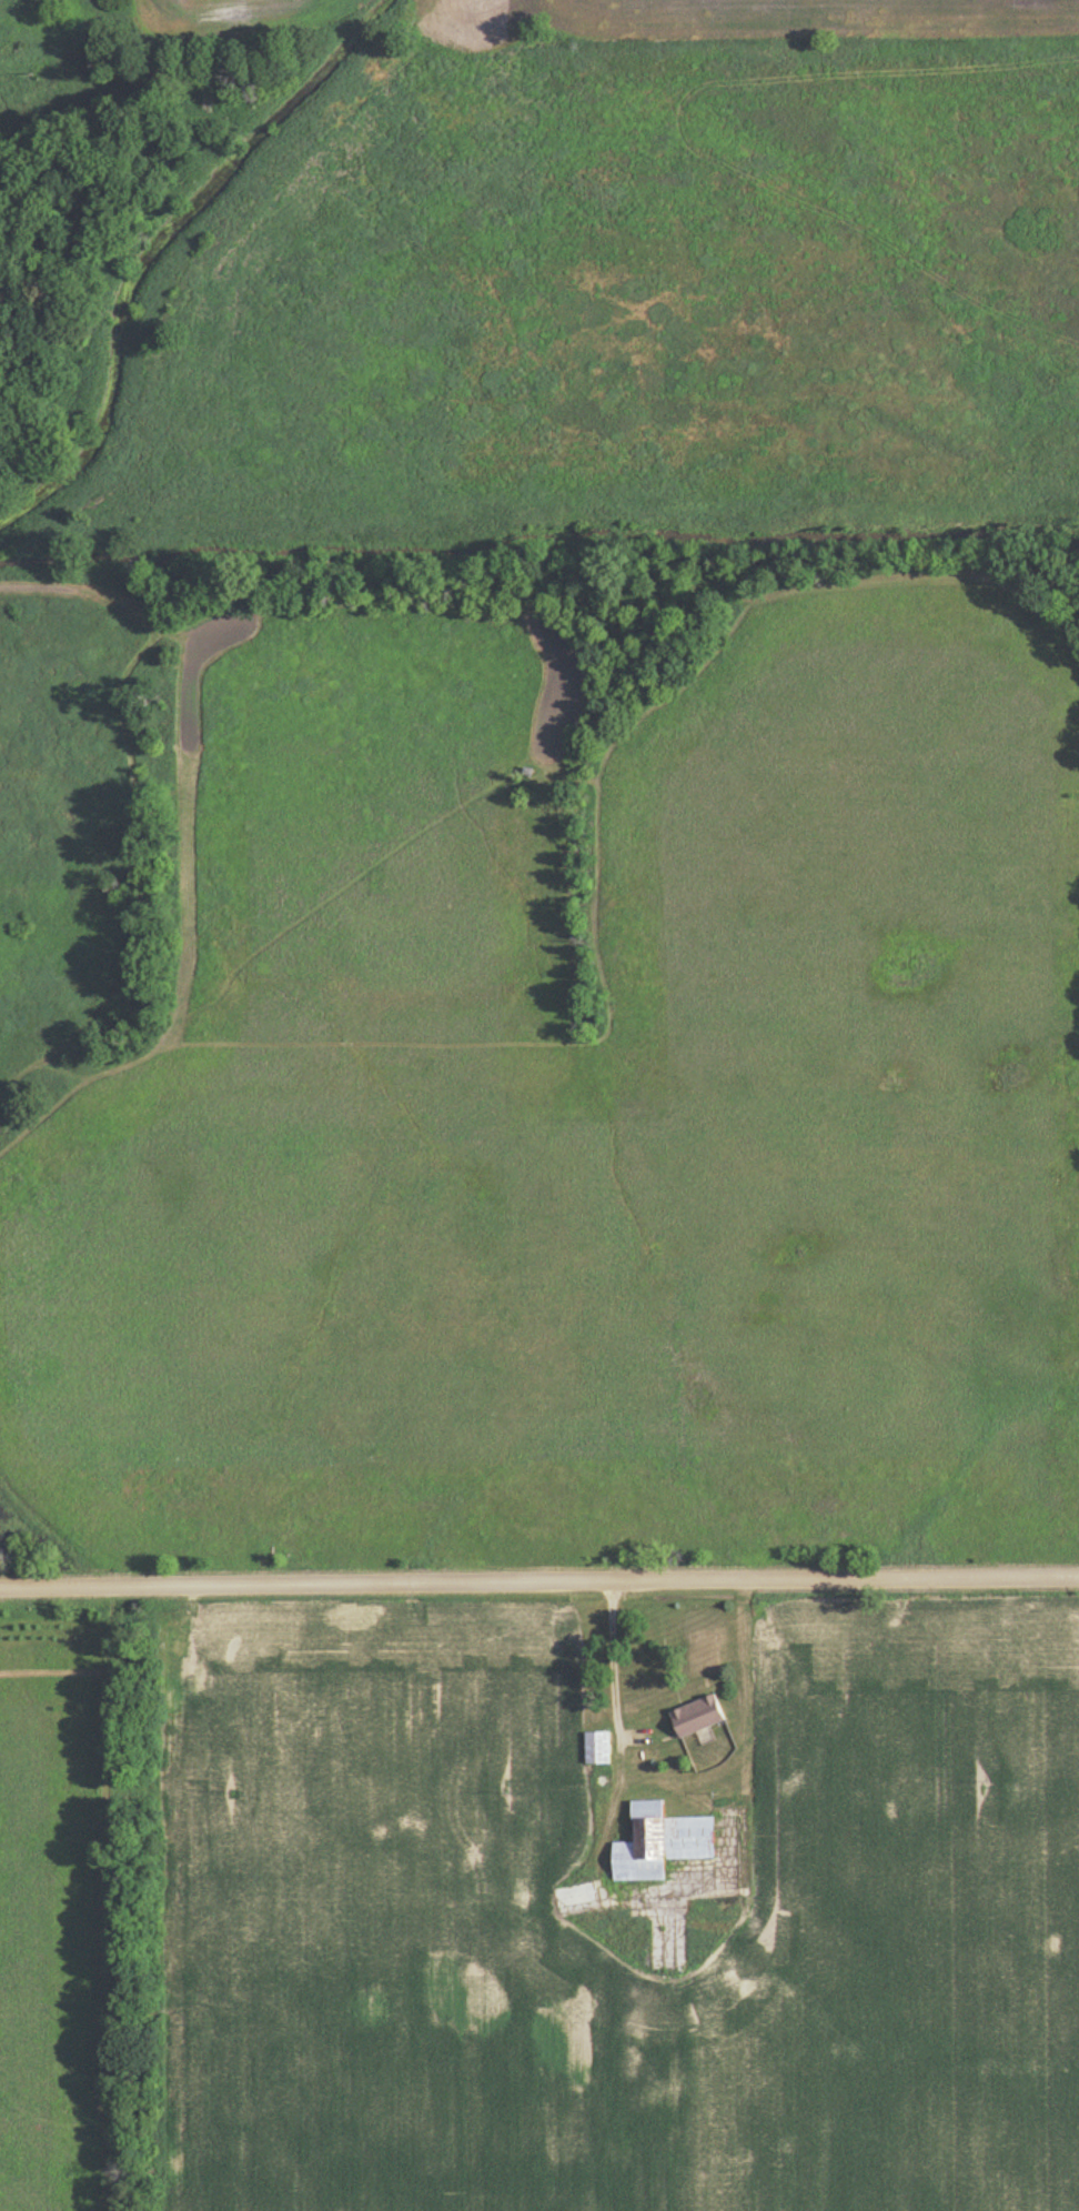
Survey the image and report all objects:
road: (538, 1581)
road: (608, 1658)
building: (702, 1717)
building: (601, 1749)
building: (665, 1843)
building: (578, 1897)

